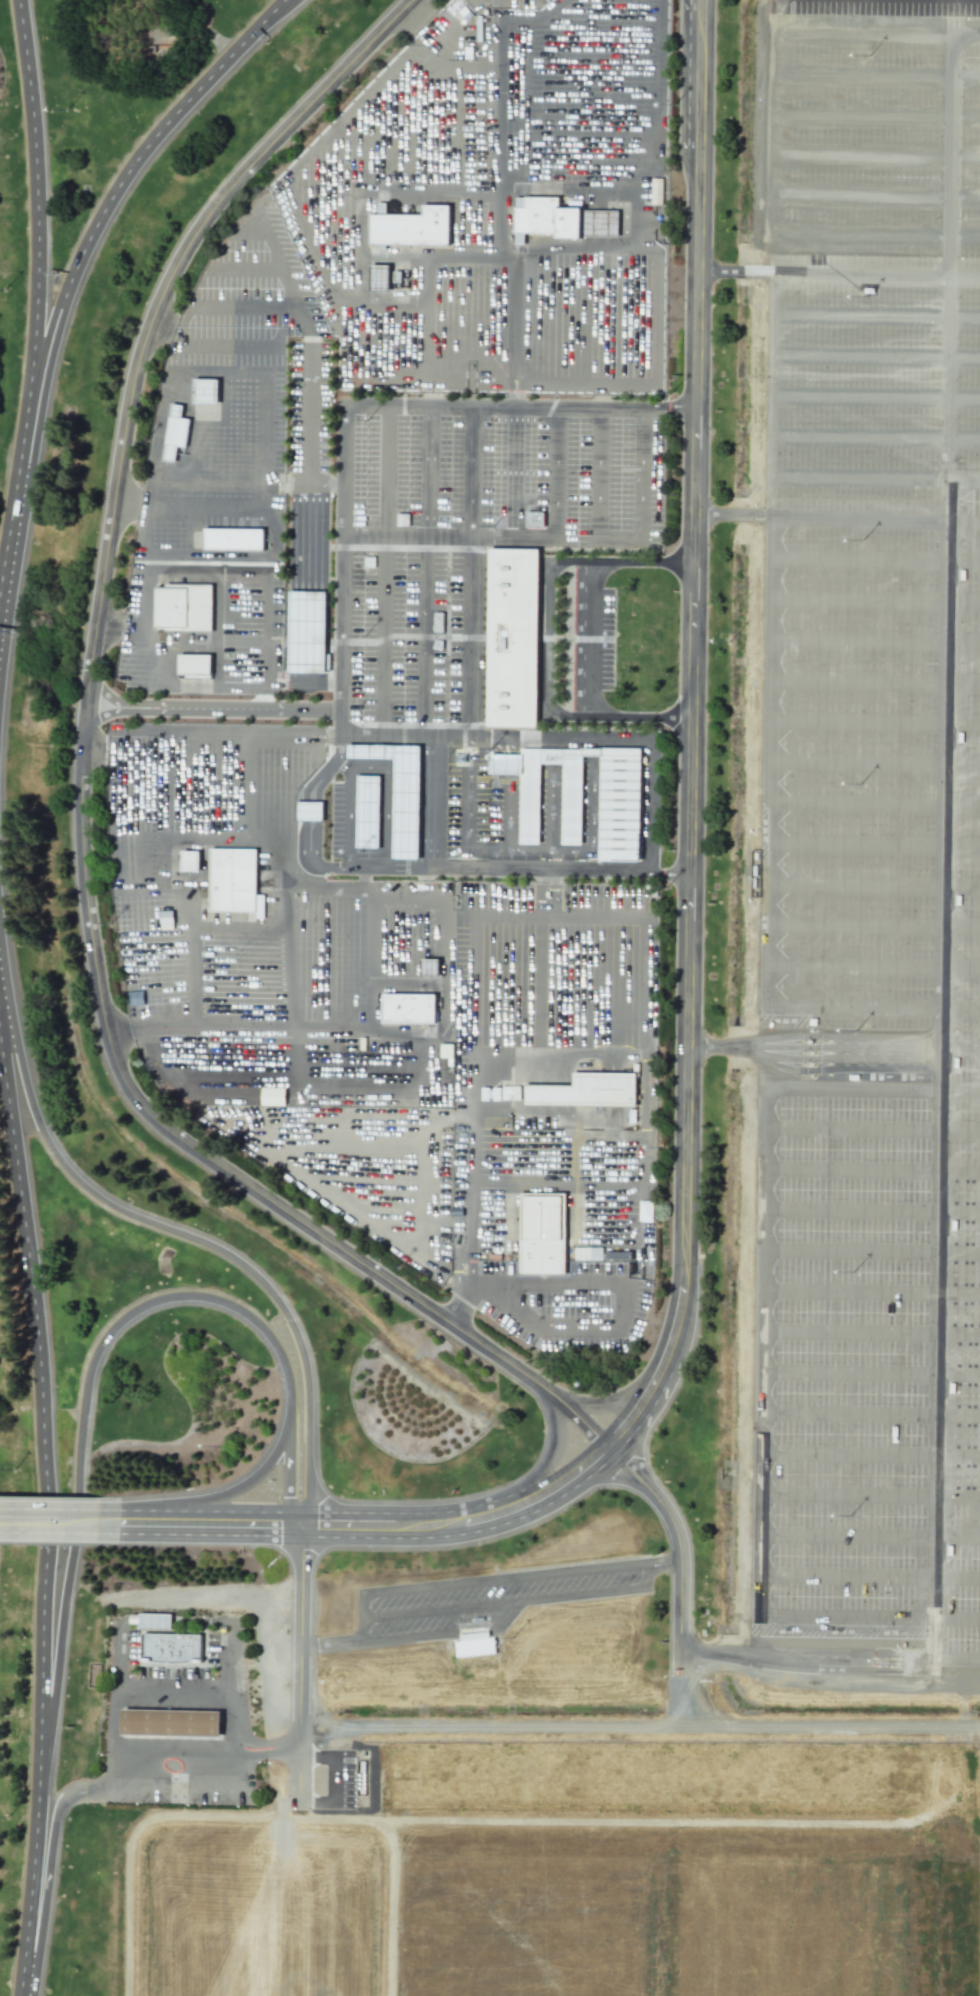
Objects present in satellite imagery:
road: (694, 5)
road: (696, 5)
road: (503, 8)
road: (416, 14)
road: (952, 19)
road: (870, 37)
road: (215, 41)
road: (870, 73)
road: (870, 113)
road: (595, 139)
road: (869, 154)
road: (950, 158)
road: (132, 167)
road: (649, 181)
road: (696, 182)
road: (35, 185)
road: (500, 190)
road: (869, 195)
road: (758, 210)
building: (561, 219)
building: (412, 226)
road: (360, 236)
road: (965, 238)
road: (429, 260)
road: (733, 273)
road: (860, 275)
building: (379, 277)
road: (964, 277)
road: (875, 319)
road: (161, 330)
road: (875, 355)
road: (222, 375)
road: (948, 380)
building: (205, 391)
road: (875, 398)
road: (368, 403)
building: (174, 432)
road: (874, 438)
road: (266, 471)
road: (471, 472)
road: (305, 481)
road: (874, 481)
road: (126, 506)
road: (730, 516)
road: (308, 517)
building: (534, 519)
road: (874, 519)
road: (18, 529)
road: (618, 537)
road: (515, 538)
building: (239, 545)
road: (149, 556)
road: (874, 560)
road: (383, 570)
road: (427, 571)
road: (873, 600)
building: (190, 612)
road: (108, 628)
building: (306, 632)
road: (469, 638)
road: (275, 639)
building: (512, 639)
road: (544, 640)
road: (590, 640)
road: (873, 640)
road: (766, 641)
road: (169, 642)
building: (200, 672)
road: (872, 682)
road: (106, 698)
road: (233, 711)
road: (872, 724)
road: (206, 733)
road: (480, 738)
road: (93, 751)
road: (872, 758)
road: (80, 763)
road: (326, 769)
road: (246, 782)
road: (307, 788)
building: (399, 793)
road: (468, 803)
road: (872, 804)
road: (648, 805)
building: (618, 809)
road: (304, 811)
building: (309, 811)
road: (315, 811)
building: (366, 811)
road: (688, 819)
road: (134, 823)
road: (591, 831)
parking lot: (869, 831)
road: (305, 835)
road: (871, 846)
road: (509, 851)
building: (189, 860)
road: (311, 860)
road: (355, 867)
road: (492, 868)
road: (425, 883)
road: (871, 884)
road: (293, 885)
building: (238, 886)
road: (196, 921)
road: (871, 925)
road: (243, 926)
road: (445, 933)
road: (288, 954)
road: (871, 964)
building: (429, 967)
building: (133, 997)
airport: (490, 998)
building: (408, 1008)
road: (643, 1010)
road: (871, 1010)
road: (321, 1025)
road: (118, 1034)
road: (539, 1036)
road: (404, 1039)
road: (959, 1053)
toll booth: (809, 1056)
road: (812, 1056)
road: (939, 1069)
road: (470, 1074)
building: (586, 1090)
road: (851, 1091)
building: (510, 1092)
road: (959, 1092)
building: (271, 1095)
road: (392, 1114)
road: (871, 1132)
road: (871, 1167)
road: (870, 1210)
road: (166, 1229)
building: (629, 1229)
building: (546, 1239)
building: (643, 1250)
building: (587, 1253)
road: (870, 1253)
road: (870, 1290)
road: (193, 1298)
road: (455, 1315)
road: (625, 1317)
road: (678, 1328)
road: (869, 1331)
road: (760, 1354)
road: (869, 1371)
road: (41, 1394)
road: (616, 1402)
road: (639, 1411)
road: (870, 1413)
road: (869, 1457)
road: (541, 1467)
road: (287, 1471)
road: (247, 1485)
road: (869, 1494)
road: (657, 1499)
road: (464, 1522)
road: (60, 1523)
road: (210, 1524)
road: (868, 1537)
road: (66, 1573)
road: (868, 1579)
road: (498, 1582)
road: (515, 1603)
parking lot: (476, 1604)
road: (680, 1604)
road: (869, 1619)
building: (155, 1623)
road: (415, 1638)
building: (474, 1647)
building: (172, 1649)
road: (954, 1660)
railway: (457, 1663)
road: (806, 1663)
road: (300, 1665)
parking lot: (176, 1669)
road: (683, 1687)
road: (174, 1697)
road: (137, 1702)
road: (159, 1702)
road: (184, 1703)
road: (203, 1703)
road: (116, 1714)
road: (136, 1723)
road: (158, 1724)
building: (170, 1724)
gas station: (170, 1724)
road: (183, 1725)
road: (202, 1725)
road: (669, 1729)
road: (136, 1745)
road: (157, 1745)
road: (181, 1745)
road: (202, 1746)
road: (206, 1751)
road: (238, 1781)
road: (342, 1783)
road: (32, 1868)
road: (48, 1872)

